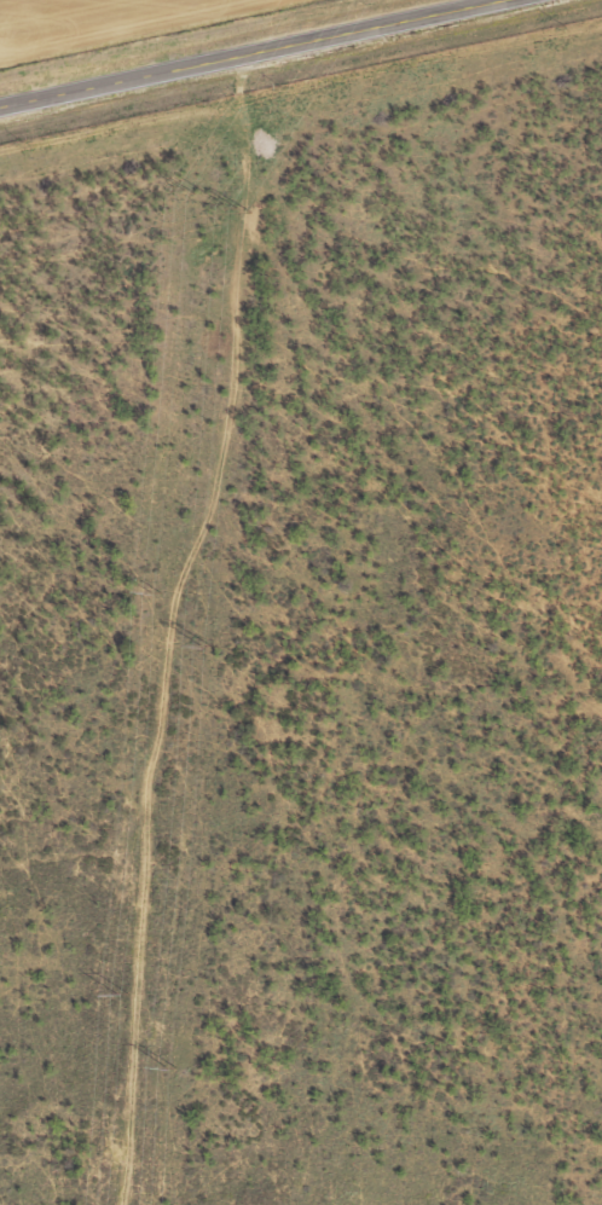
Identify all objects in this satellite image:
road: (255, 54)
power tower: (184, 190)
power tower: (236, 212)
power tower: (156, 592)
power tower: (206, 648)
power tower: (123, 993)
power tower: (173, 1071)

